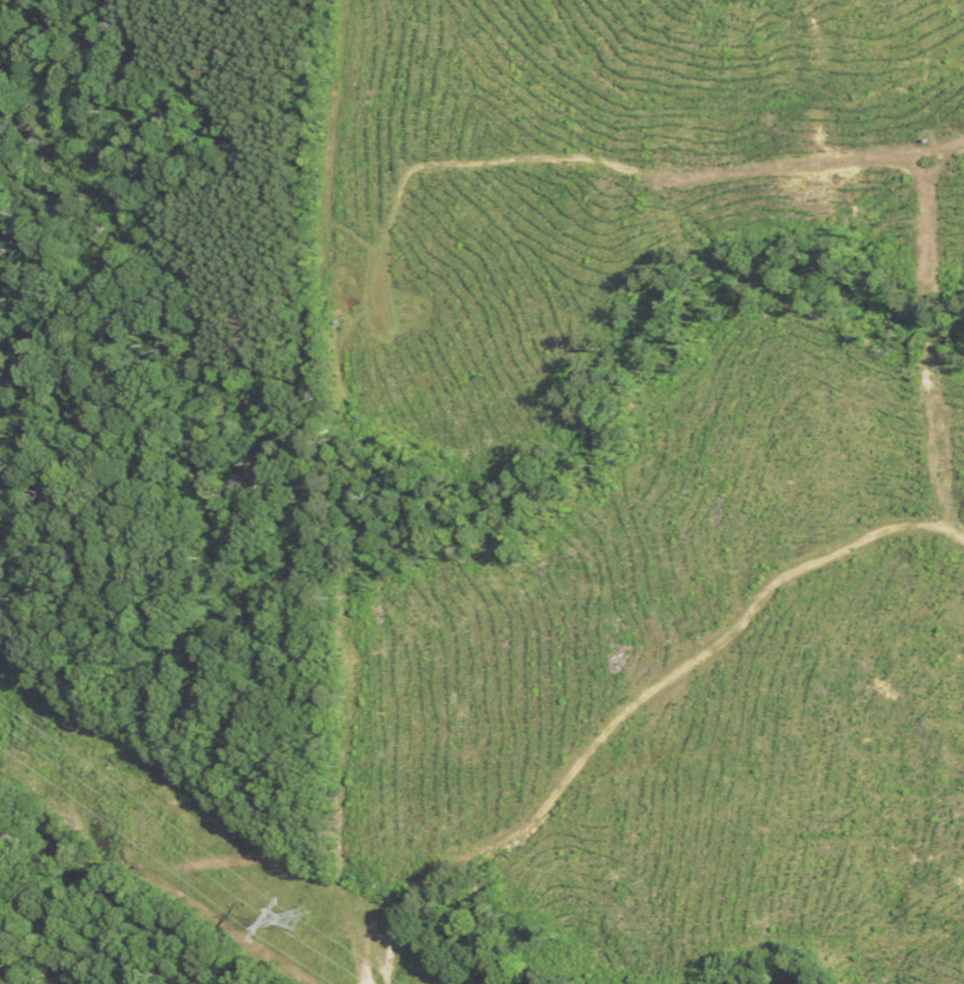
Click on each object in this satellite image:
power tower: (298, 919)

